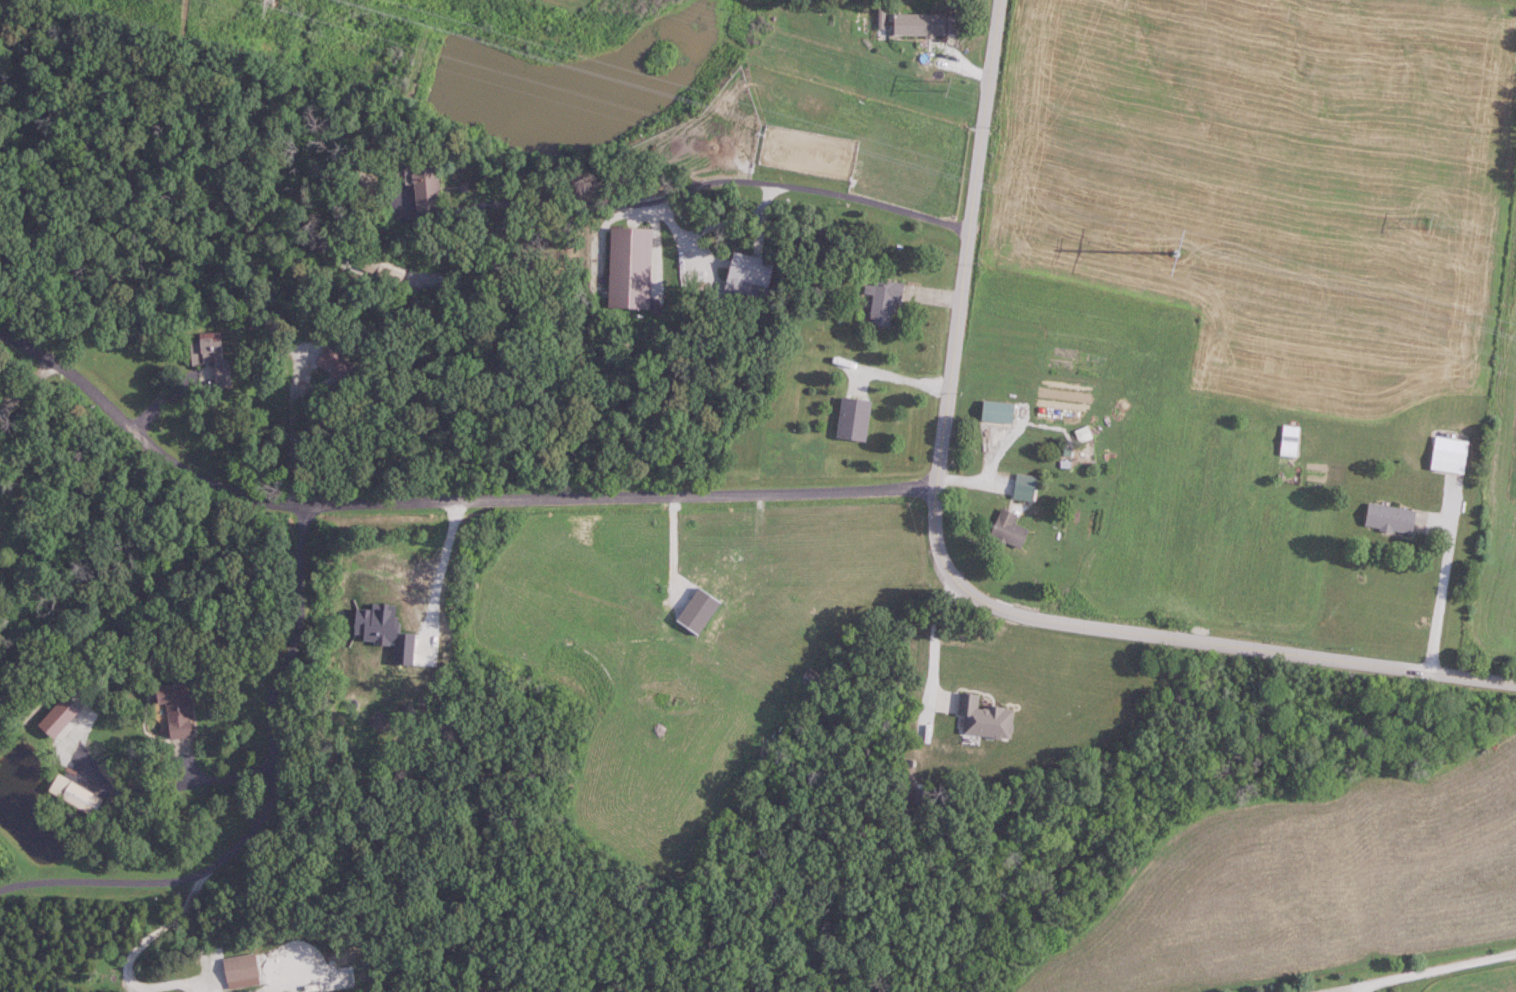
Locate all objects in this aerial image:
building: (920, 24)
power tower: (947, 82)
building: (428, 189)
road: (684, 189)
power tower: (1426, 221)
power tower: (1177, 251)
building: (386, 266)
building: (632, 267)
building: (751, 272)
building: (885, 301)
building: (214, 358)
building: (336, 364)
road: (900, 377)
road: (27, 387)
building: (999, 411)
building: (855, 418)
building: (1291, 440)
road: (295, 443)
building: (1450, 461)
building: (1026, 487)
road: (443, 502)
building: (1392, 518)
building: (1010, 530)
road: (674, 544)
road: (431, 558)
road: (950, 575)
road: (1437, 603)
road: (933, 639)
building: (178, 708)
building: (986, 718)
road: (170, 786)
building: (77, 795)
road: (270, 803)
road: (136, 949)
building: (242, 967)
road: (1437, 968)

